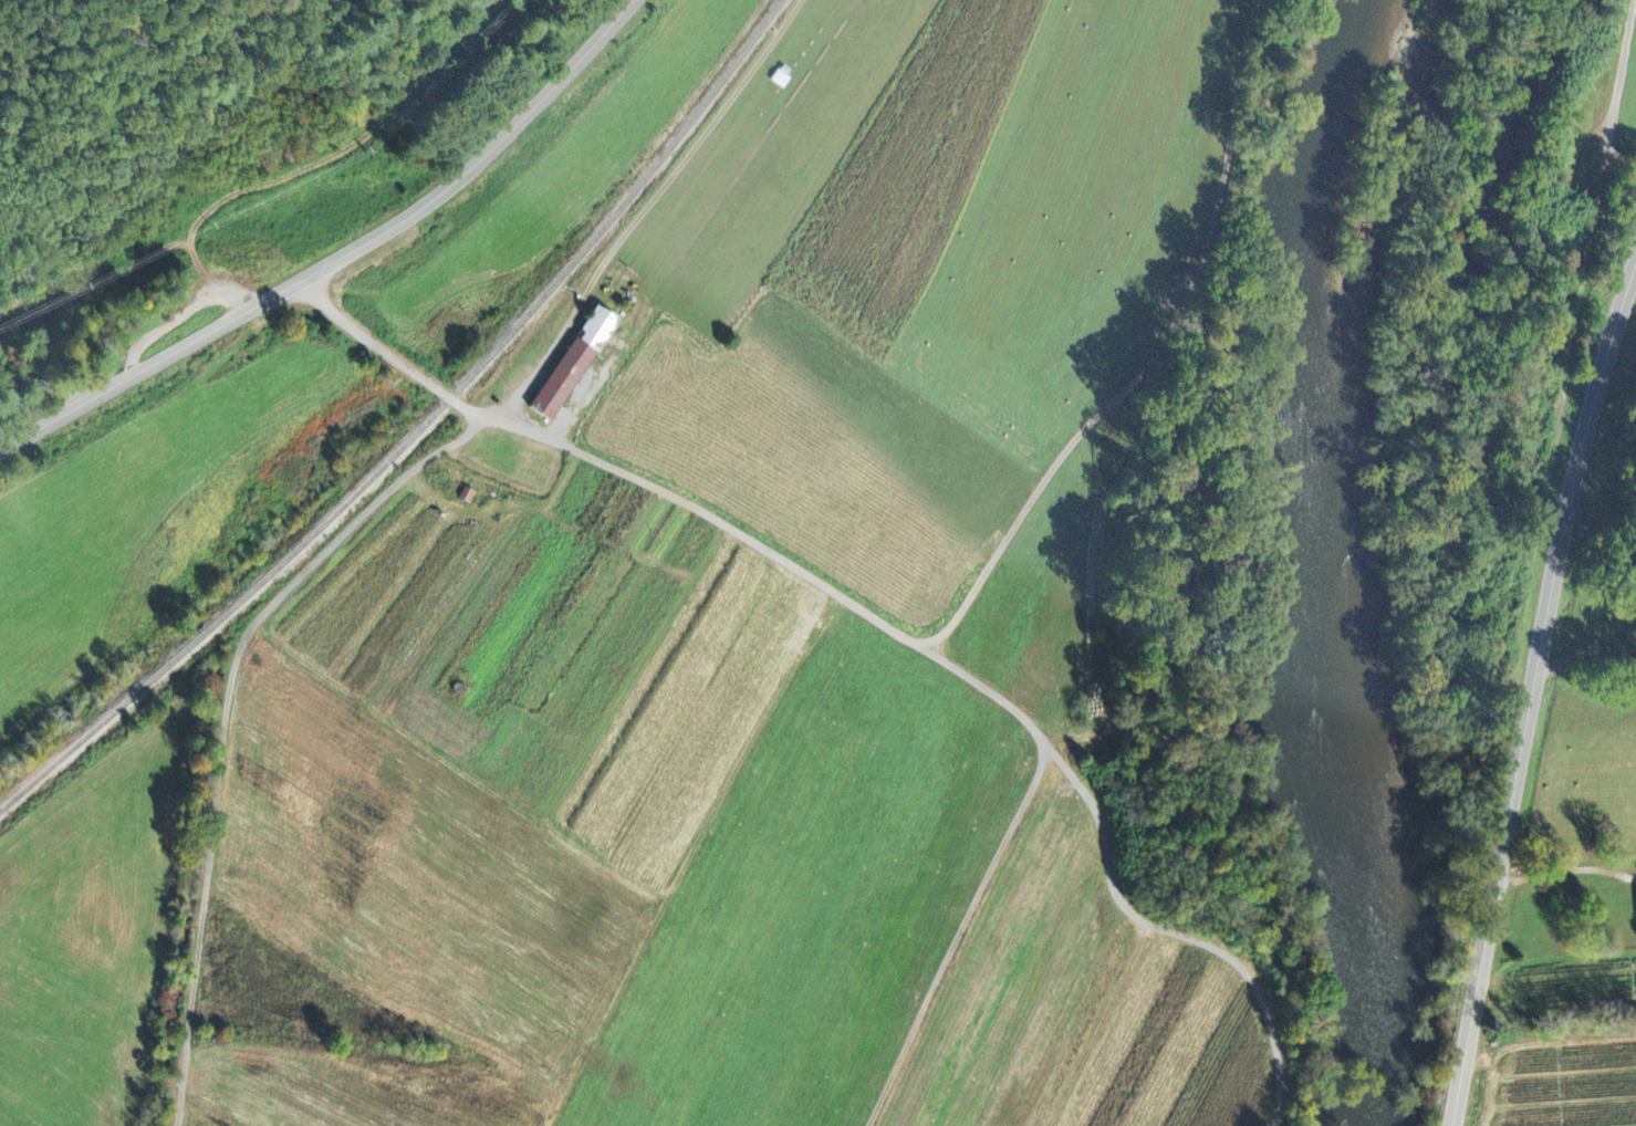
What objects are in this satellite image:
road: (343, 257)
building: (579, 365)
railway: (417, 431)
river: (1296, 465)
road: (611, 467)
road: (1586, 667)
road: (1534, 696)
river: (1375, 1031)

